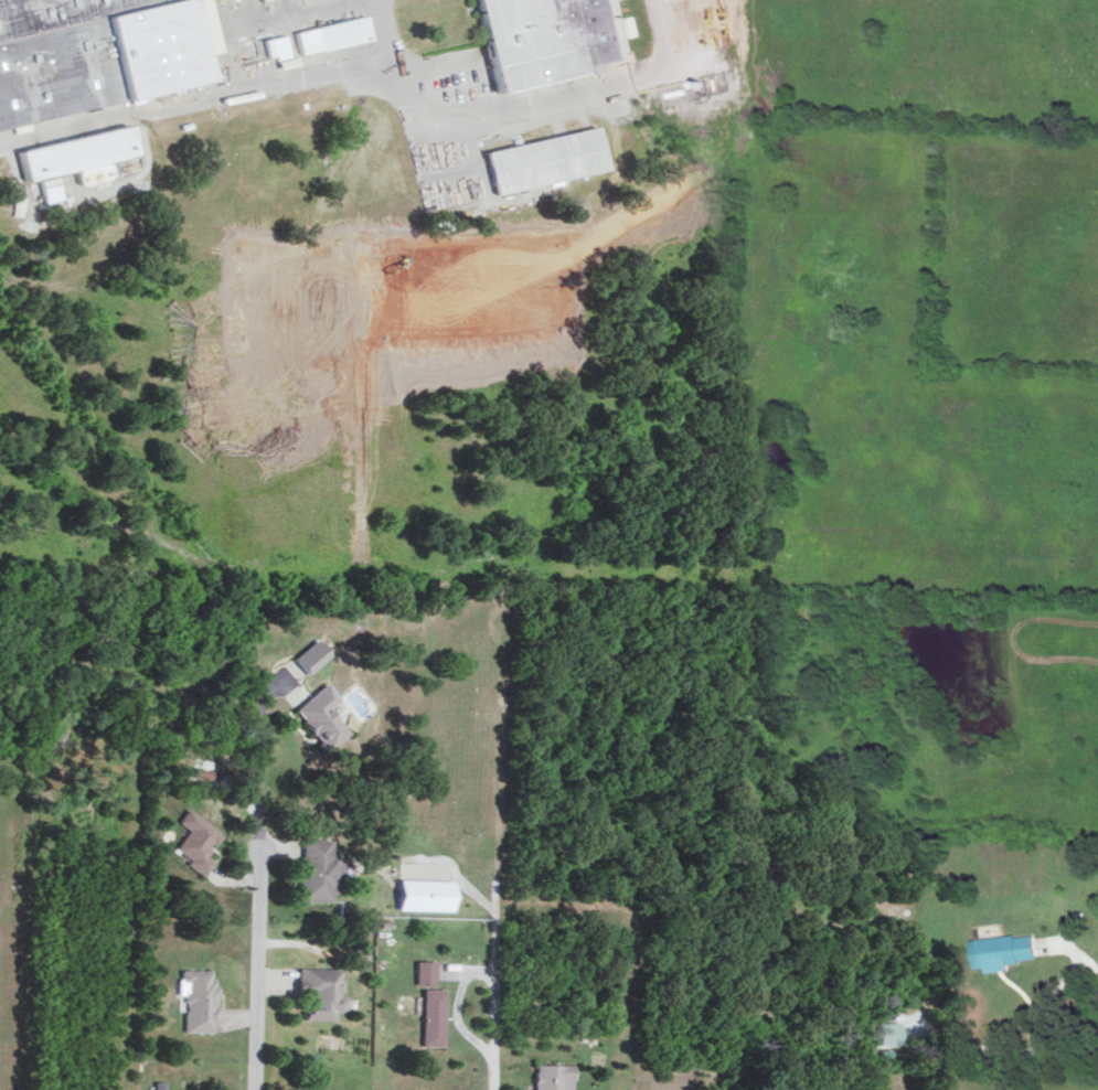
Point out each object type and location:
building: (323, 33)
building: (540, 35)
building: (267, 45)
building: (93, 51)
road: (195, 99)
road: (512, 105)
building: (66, 156)
building: (537, 159)
building: (312, 654)
building: (322, 716)
building: (198, 841)
road: (259, 868)
building: (319, 869)
building: (426, 894)
building: (1003, 950)
building: (364, 954)
road: (1083, 959)
building: (426, 971)
building: (321, 991)
building: (200, 1000)
road: (492, 1007)
building: (434, 1016)
building: (891, 1032)
building: (552, 1076)

